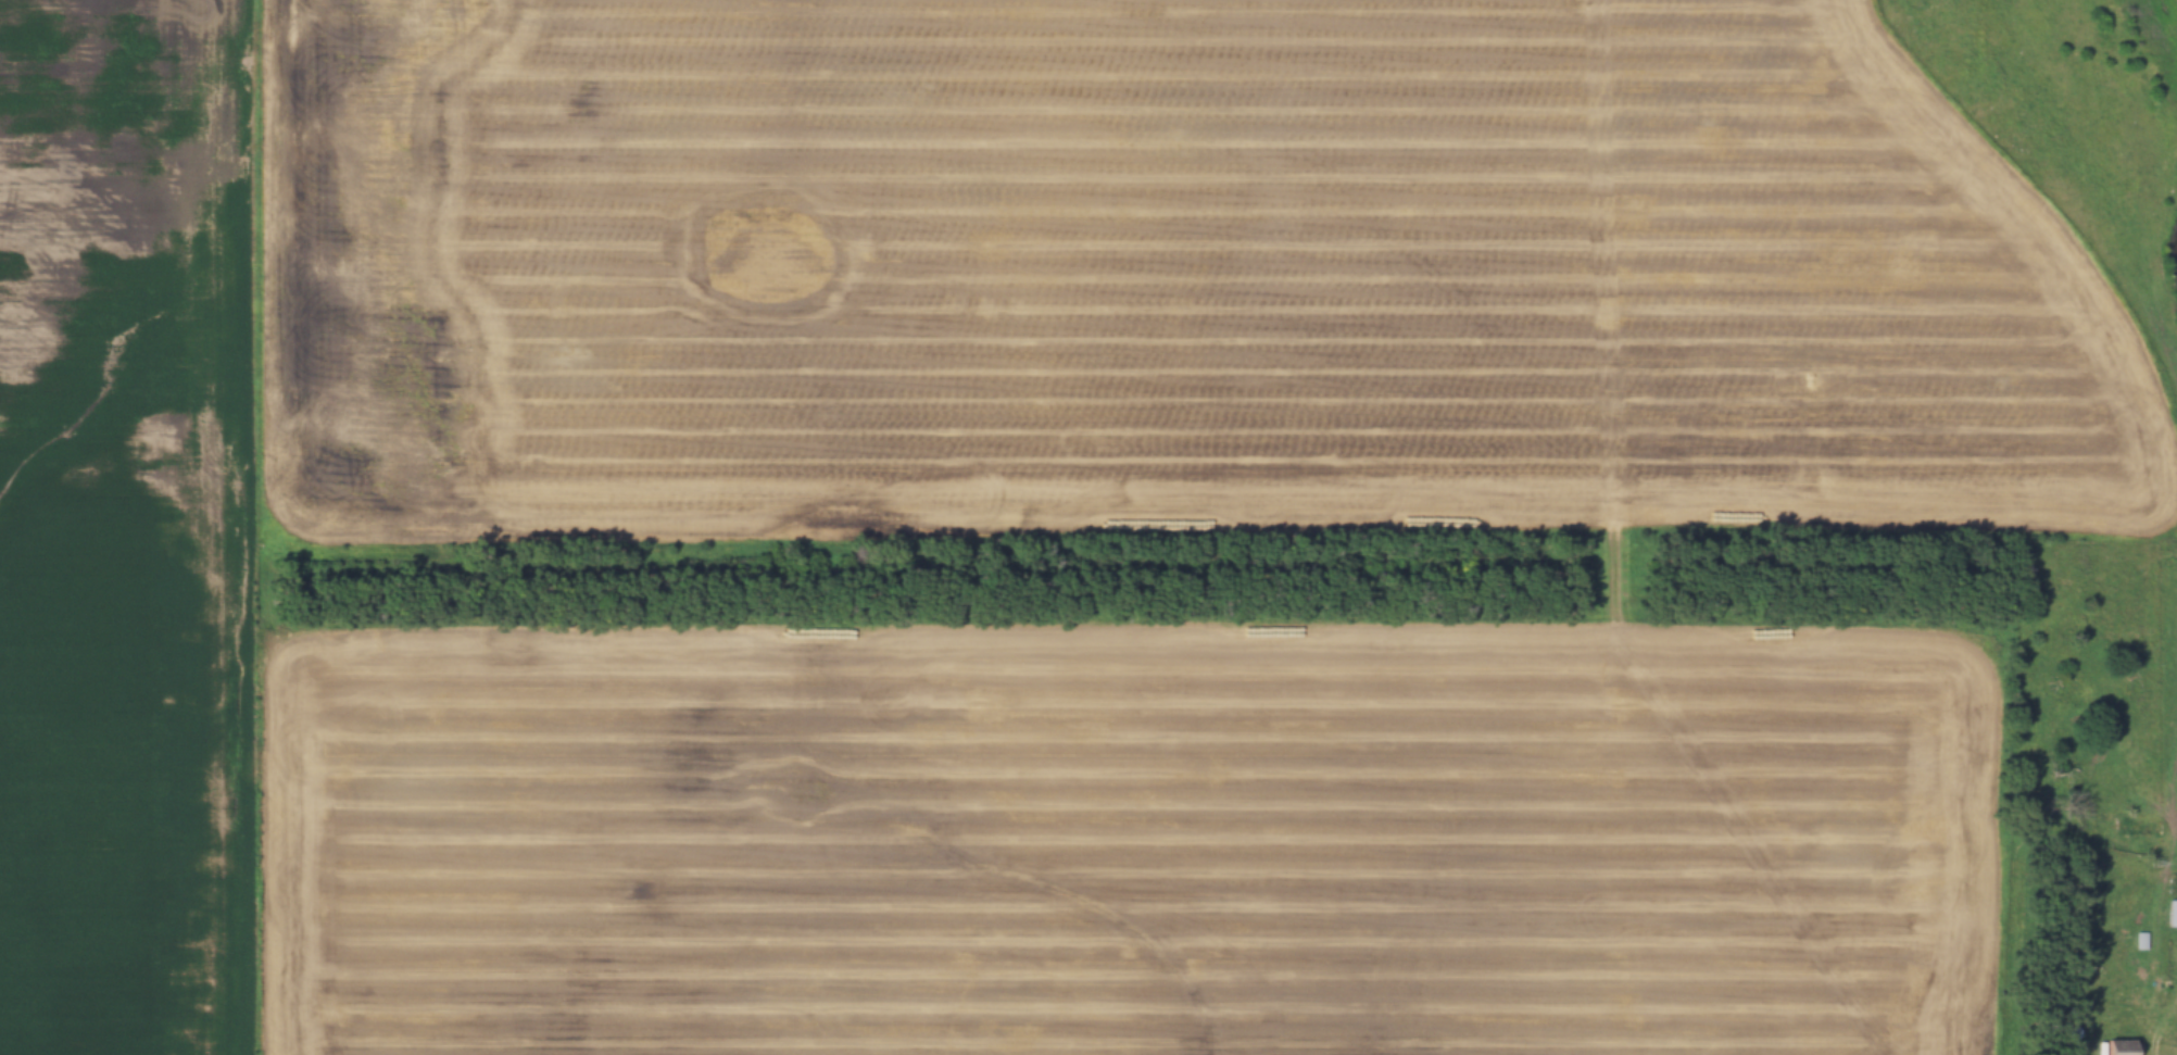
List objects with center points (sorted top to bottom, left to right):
building: (2136, 827)
building: (2173, 914)
building: (2122, 1046)

